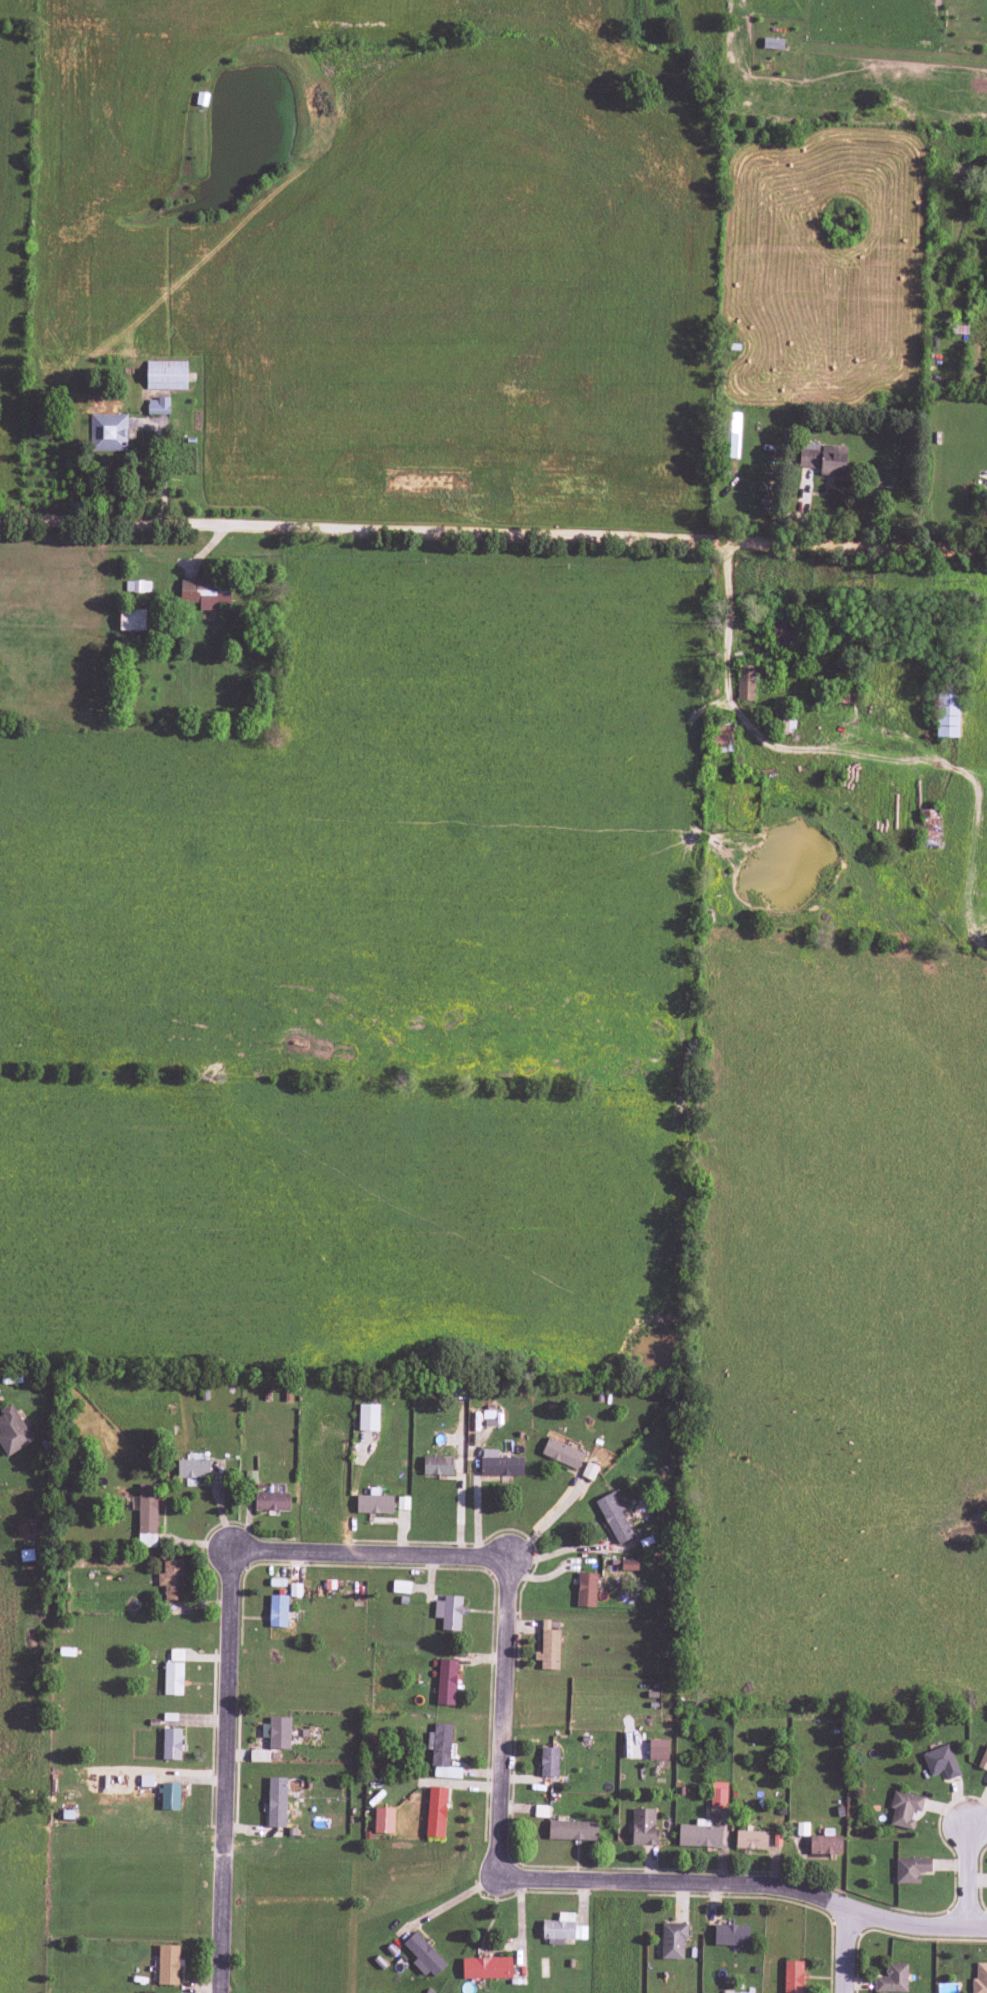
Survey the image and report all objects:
building: (166, 375)
building: (158, 406)
building: (108, 434)
building: (731, 435)
building: (823, 458)
road: (493, 533)
building: (137, 586)
building: (205, 592)
building: (782, 634)
building: (746, 683)
building: (946, 713)
building: (787, 725)
building: (721, 738)
building: (929, 826)
building: (368, 1417)
building: (12, 1431)
building: (562, 1453)
building: (499, 1464)
building: (437, 1466)
building: (193, 1469)
building: (589, 1471)
building: (249, 1477)
building: (271, 1501)
building: (374, 1503)
building: (147, 1515)
building: (614, 1516)
road: (256, 1549)
building: (629, 1565)
building: (171, 1580)
building: (401, 1587)
building: (586, 1590)
building: (277, 1611)
building: (449, 1612)
building: (549, 1645)
building: (176, 1655)
building: (173, 1678)
building: (446, 1682)
building: (277, 1732)
building: (171, 1744)
building: (658, 1749)
building: (441, 1752)
building: (259, 1756)
building: (983, 1760)
building: (549, 1762)
building: (940, 1762)
building: (986, 1780)
building: (718, 1795)
building: (169, 1796)
building: (276, 1802)
building: (904, 1808)
building: (435, 1812)
building: (383, 1820)
building: (643, 1827)
building: (572, 1830)
building: (699, 1834)
building: (751, 1840)
building: (825, 1845)
building: (911, 1869)
road: (971, 1875)
road: (632, 1879)
road: (918, 1922)
building: (730, 1935)
building: (672, 1940)
road: (848, 1954)
building: (423, 1955)
building: (168, 1965)
building: (486, 1968)
building: (793, 1977)
building: (892, 1979)
building: (980, 1979)

